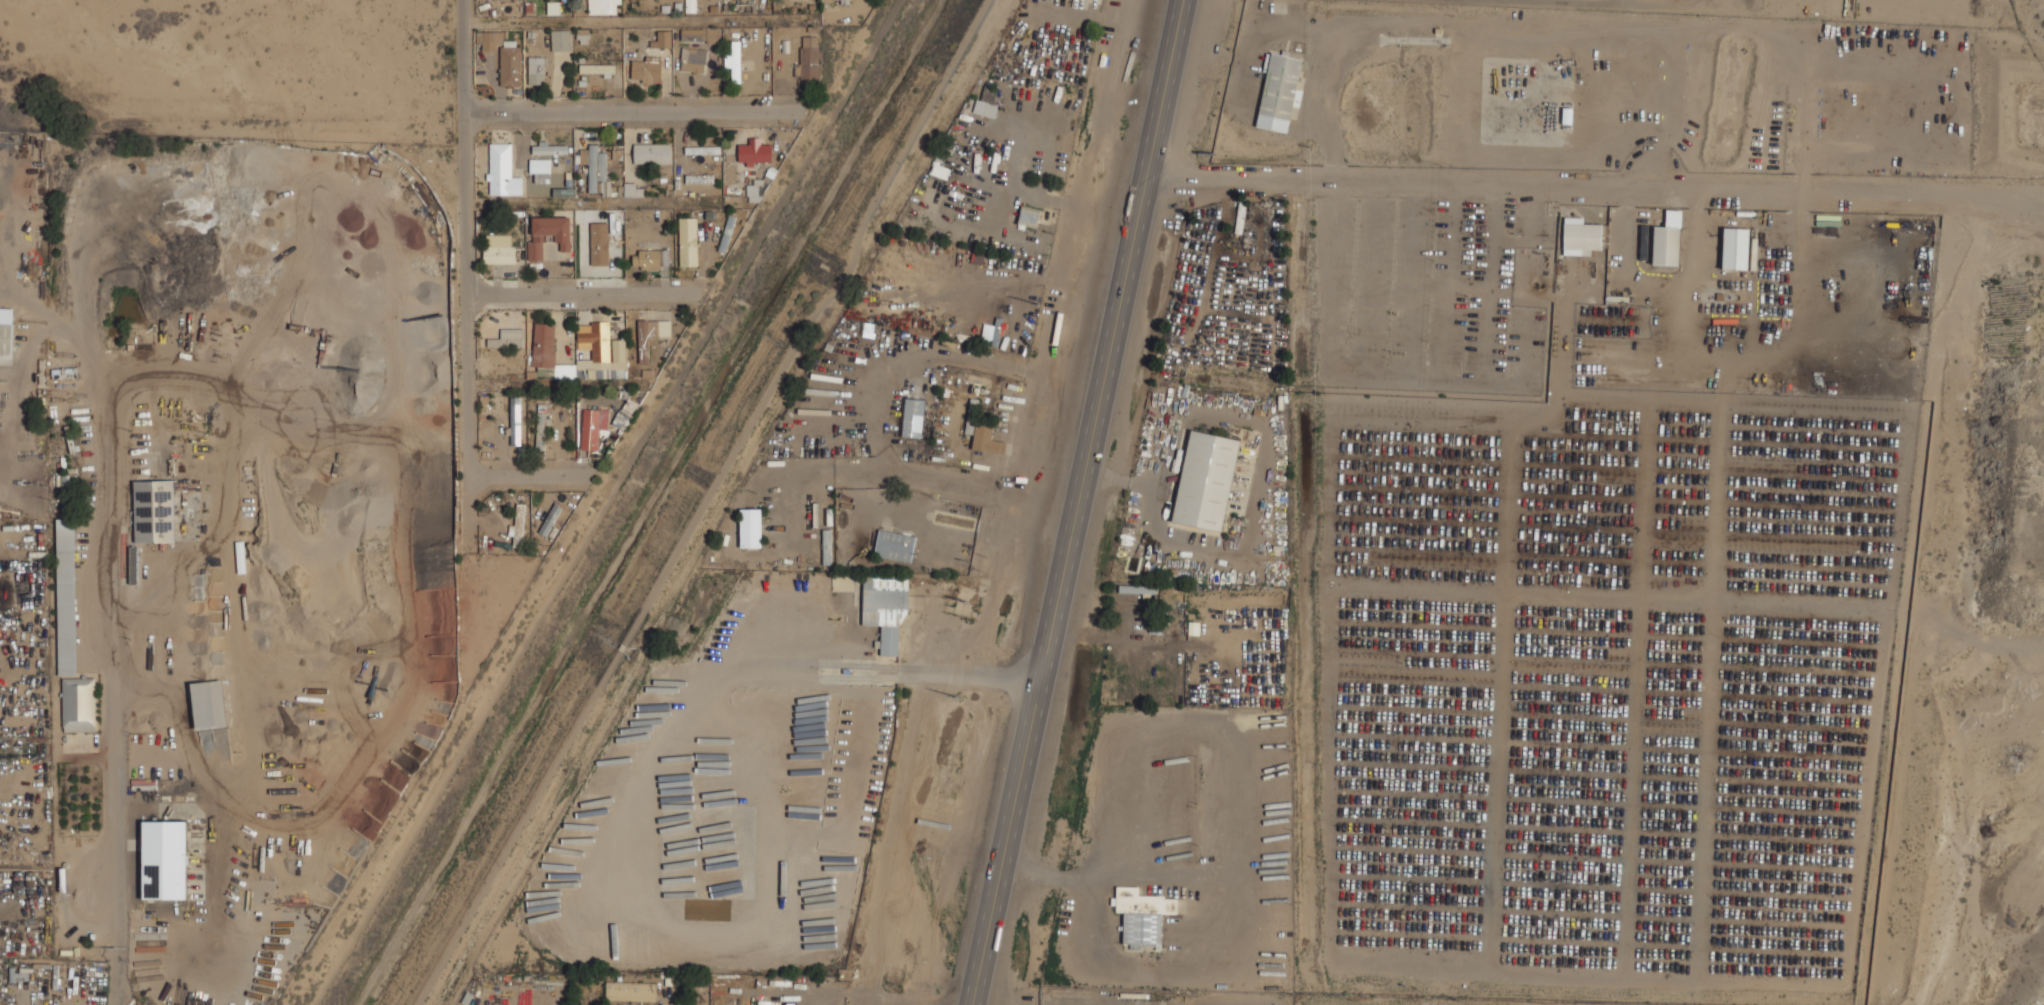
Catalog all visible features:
building: (842, 1)
building: (690, 6)
building: (603, 7)
building: (700, 34)
building: (663, 38)
building: (560, 40)
building: (487, 41)
road: (462, 56)
building: (808, 57)
building: (692, 59)
building: (736, 60)
building: (510, 66)
building: (596, 69)
building: (646, 69)
building: (536, 70)
building: (1279, 92)
building: (986, 103)
road: (624, 111)
building: (550, 148)
building: (702, 148)
building: (754, 150)
building: (652, 153)
building: (593, 164)
building: (540, 170)
building: (501, 171)
road: (1589, 177)
building: (631, 189)
building: (753, 193)
building: (1240, 217)
building: (548, 234)
building: (726, 234)
building: (1581, 236)
building: (1667, 240)
building: (688, 242)
building: (599, 243)
building: (1735, 248)
building: (499, 254)
building: (650, 259)
road: (557, 299)
building: (652, 329)
building: (6, 331)
building: (990, 332)
building: (507, 338)
building: (595, 341)
building: (543, 345)
road: (464, 352)
building: (583, 354)
building: (616, 372)
road: (858, 380)
road: (522, 393)
building: (625, 413)
building: (913, 418)
building: (515, 421)
building: (592, 426)
building: (541, 428)
building: (489, 431)
building: (986, 440)
road: (917, 479)
road: (527, 480)
building: (1206, 480)
road: (707, 502)
road: (1077, 503)
building: (155, 510)
building: (550, 518)
building: (519, 524)
building: (751, 527)
building: (895, 545)
building: (67, 596)
building: (890, 640)
road: (765, 665)
road: (112, 669)
building: (79, 704)
building: (209, 704)
building: (165, 859)
road: (1225, 902)
building: (1143, 915)
building: (630, 990)
building: (767, 1002)

